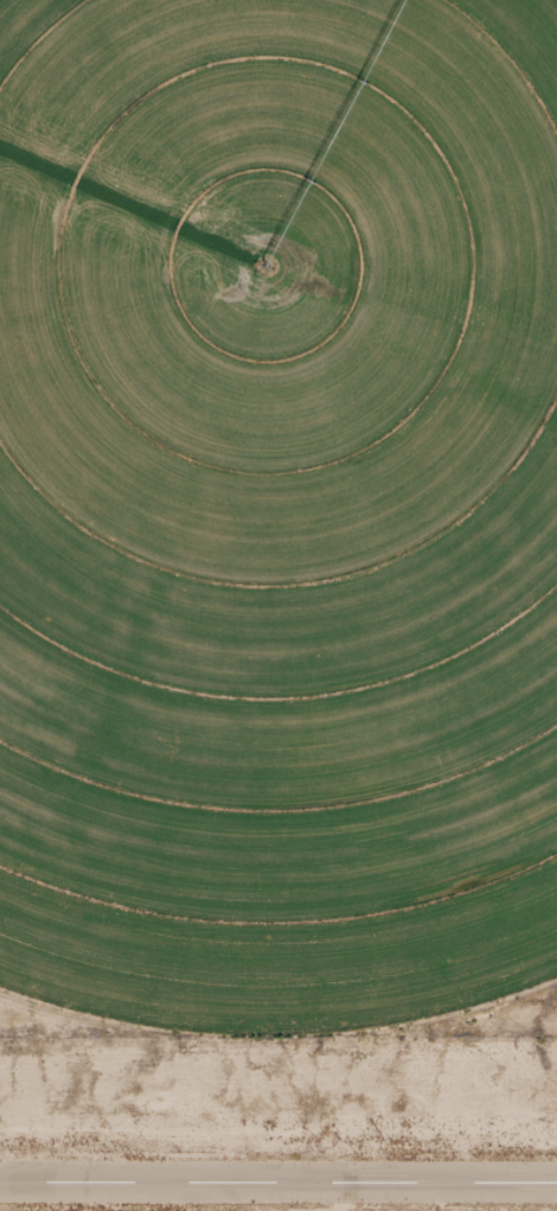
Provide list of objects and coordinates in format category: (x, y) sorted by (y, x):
crop: (277, 501)
airport: (278, 1128)
airport runway: (278, 1183)

